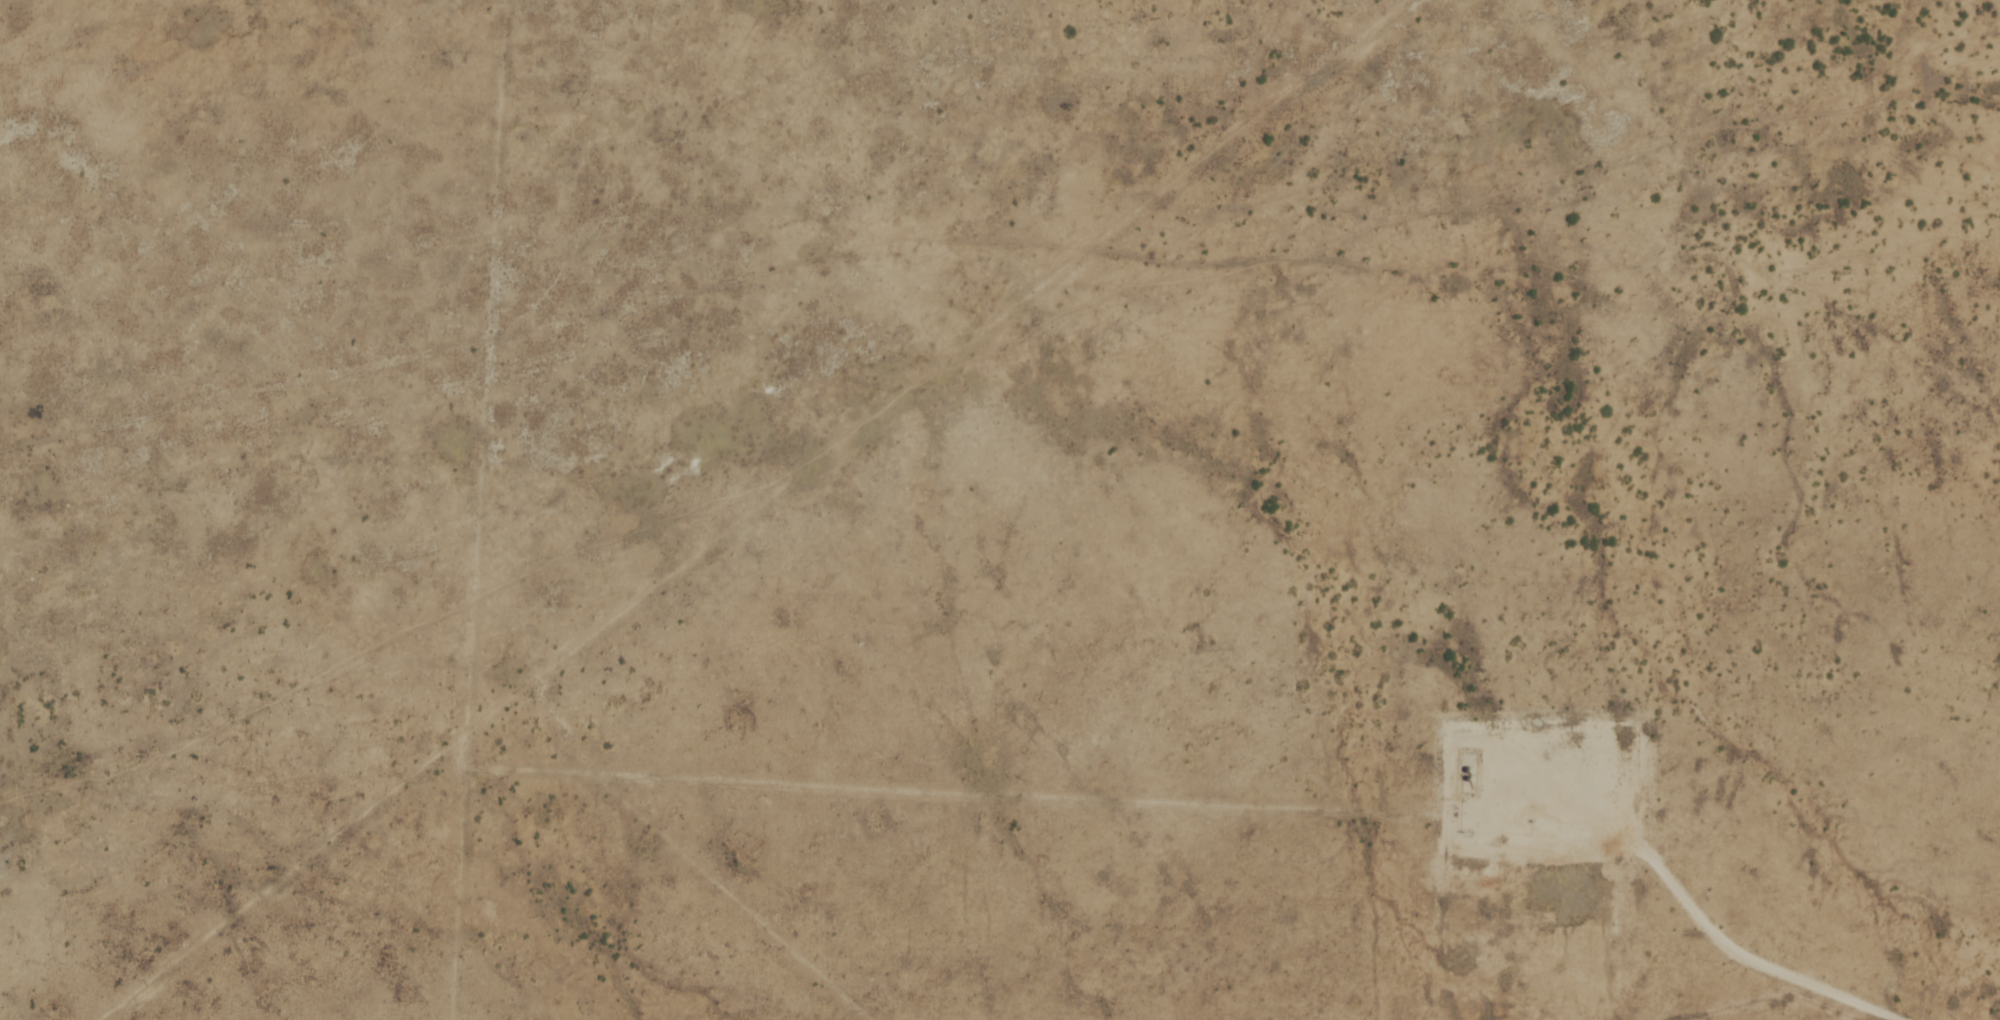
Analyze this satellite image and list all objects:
petroleum well: (1503, 782)
road: (1715, 931)

